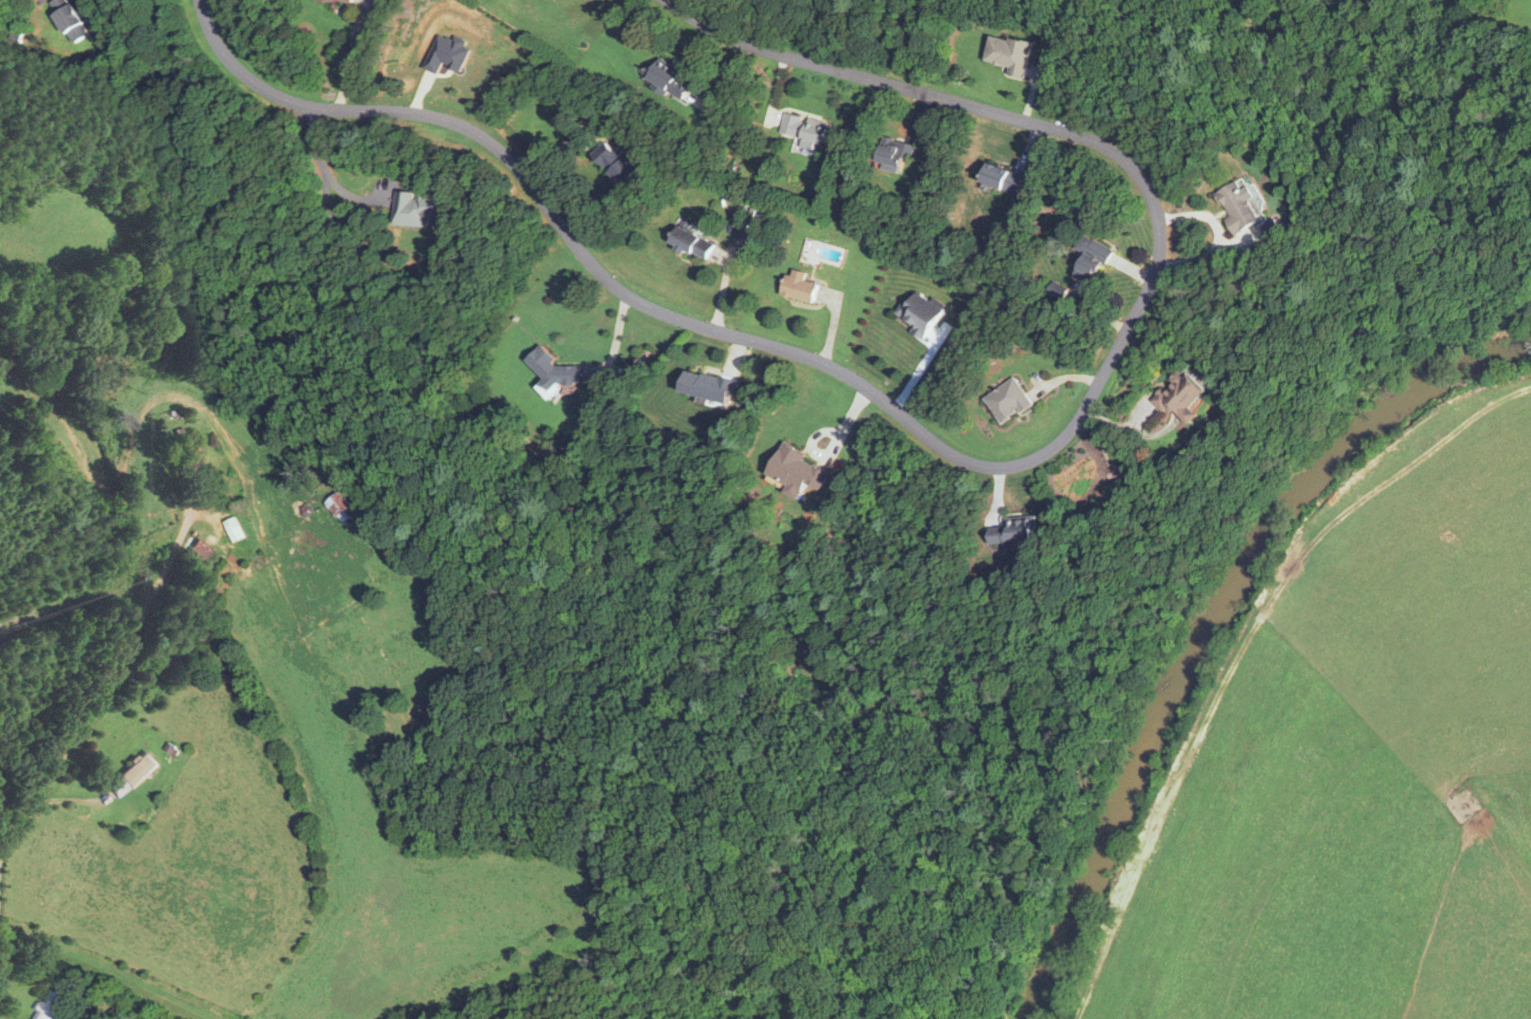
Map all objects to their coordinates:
building: (347, 0)
building: (70, 18)
road: (1515, 23)
building: (1011, 51)
building: (670, 79)
building: (804, 129)
building: (895, 153)
building: (617, 162)
building: (1003, 177)
building: (1240, 205)
building: (419, 206)
building: (1274, 227)
building: (693, 241)
building: (1092, 258)
building: (800, 285)
building: (921, 312)
building: (553, 371)
building: (709, 385)
building: (1181, 396)
building: (1008, 400)
building: (191, 455)
road: (958, 457)
building: (795, 471)
building: (339, 504)
building: (234, 528)
building: (1016, 530)
building: (200, 549)
road: (106, 674)
building: (132, 775)

